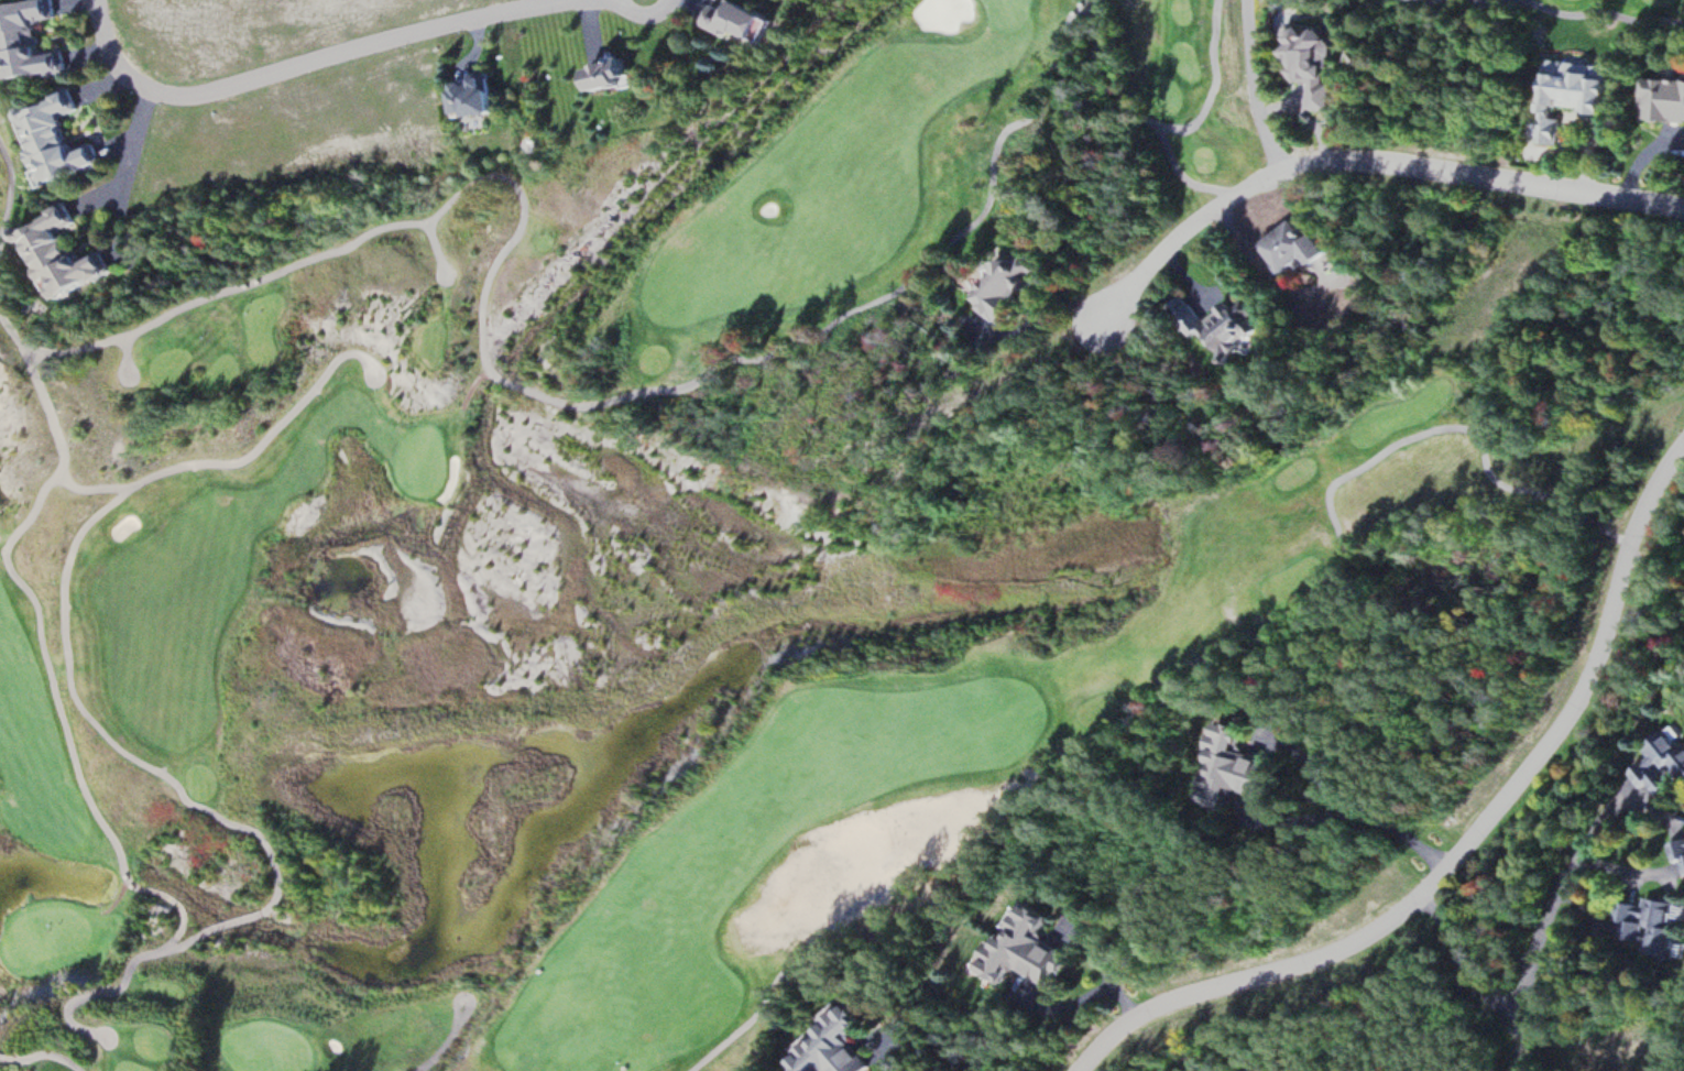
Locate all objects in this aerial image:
road: (1095, 3)
park: (1012, 12)
road: (1577, 15)
building: (750, 17)
road: (646, 19)
building: (33, 40)
building: (1313, 64)
road: (302, 65)
road: (1256, 87)
building: (1574, 92)
building: (482, 95)
building: (1665, 99)
road: (1167, 123)
building: (58, 140)
road: (1363, 168)
road: (1189, 174)
road: (14, 186)
building: (1297, 247)
building: (62, 254)
road: (260, 275)
building: (1009, 286)
building: (1221, 327)
road: (53, 345)
road: (692, 382)
road: (1467, 423)
park: (419, 459)
road: (96, 488)
park: (769, 503)
road: (77, 571)
road: (1660, 580)
road: (44, 609)
building: (1662, 764)
building: (1237, 769)
road: (1015, 802)
road: (1467, 848)
building: (1680, 849)
building: (1652, 925)
park: (41, 933)
road: (170, 943)
building: (1028, 949)
road: (1527, 985)
road: (110, 991)
road: (1520, 1039)
road: (440, 1045)
building: (835, 1046)
park: (276, 1049)
park: (1674, 1049)
road: (46, 1050)

